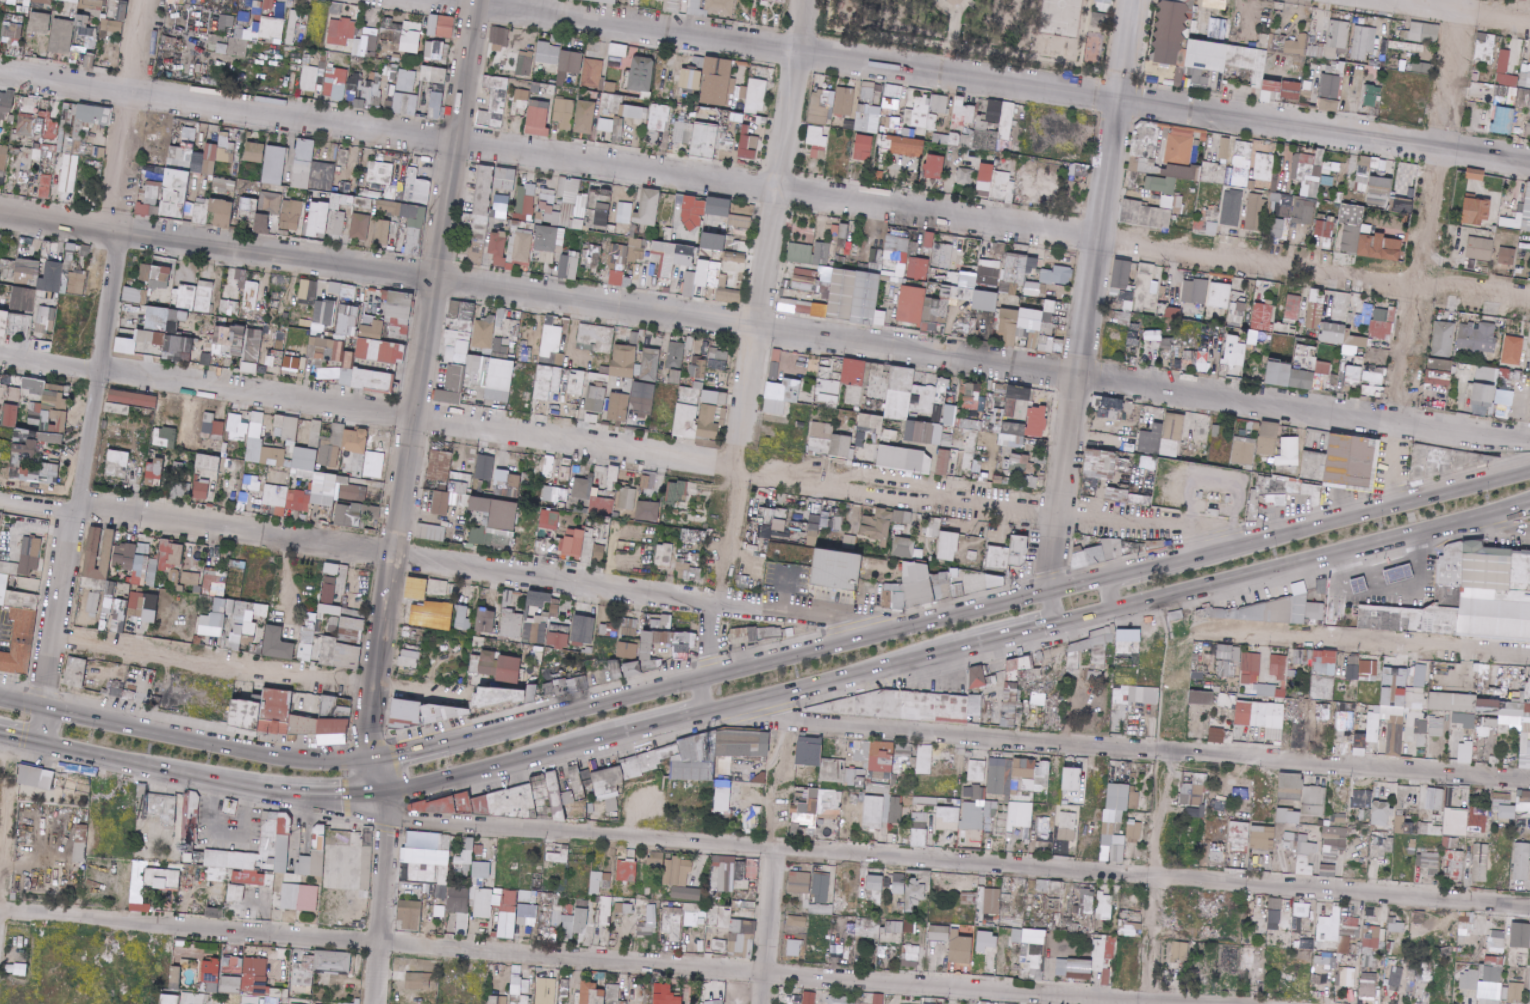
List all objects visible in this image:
park: (981, 29)

